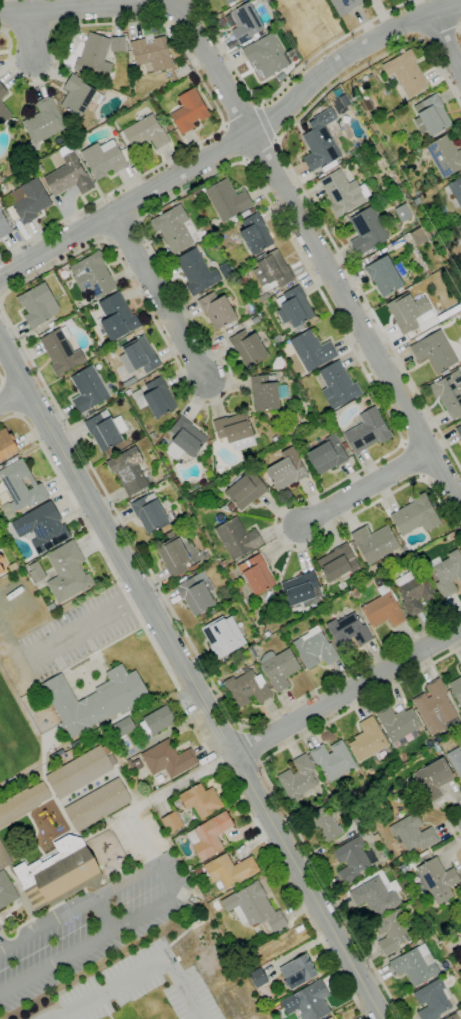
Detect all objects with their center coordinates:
building: (364, 0)
building: (366, 0)
building: (229, 1)
road: (160, 5)
building: (344, 5)
building: (243, 22)
road: (440, 31)
road: (32, 34)
road: (444, 42)
building: (152, 54)
building: (97, 55)
building: (266, 55)
building: (181, 71)
building: (406, 73)
road: (198, 76)
road: (285, 84)
building: (2, 92)
building: (78, 95)
power tower: (352, 100)
building: (189, 111)
building: (4, 113)
building: (431, 115)
building: (44, 121)
road: (264, 122)
building: (305, 127)
building: (146, 133)
road: (234, 142)
building: (319, 148)
building: (444, 156)
building: (103, 159)
building: (68, 177)
building: (1, 179)
road: (305, 192)
building: (342, 192)
building: (454, 192)
building: (30, 200)
building: (228, 200)
building: (417, 200)
building: (251, 210)
building: (402, 213)
building: (4, 226)
building: (173, 229)
building: (367, 229)
building: (255, 234)
building: (420, 236)
building: (237, 239)
building: (196, 272)
building: (271, 272)
building: (92, 275)
building: (241, 276)
building: (384, 276)
road: (158, 297)
road: (0, 300)
building: (37, 305)
building: (294, 308)
building: (217, 310)
building: (407, 311)
building: (117, 317)
road: (355, 319)
building: (255, 321)
building: (51, 324)
building: (278, 339)
building: (248, 348)
building: (312, 350)
building: (61, 351)
building: (434, 351)
building: (95, 353)
building: (137, 357)
road: (1, 380)
building: (338, 385)
building: (88, 390)
building: (268, 392)
building: (449, 393)
road: (13, 396)
building: (155, 398)
road: (212, 402)
building: (103, 431)
building: (234, 431)
building: (367, 431)
building: (459, 431)
building: (153, 437)
building: (186, 440)
building: (6, 445)
building: (344, 445)
building: (326, 455)
building: (128, 470)
building: (286, 470)
building: (165, 477)
building: (151, 485)
road: (368, 487)
building: (20, 488)
building: (245, 490)
building: (230, 506)
building: (150, 514)
building: (415, 515)
building: (171, 516)
building: (41, 528)
building: (237, 538)
building: (374, 543)
road: (99, 548)
building: (355, 554)
building: (173, 555)
building: (1, 559)
building: (338, 563)
building: (12, 567)
building: (1, 570)
building: (36, 571)
building: (67, 572)
building: (447, 572)
building: (257, 574)
building: (354, 590)
building: (300, 591)
building: (414, 592)
building: (198, 594)
building: (269, 597)
building: (175, 599)
building: (51, 607)
building: (383, 609)
road: (90, 623)
building: (348, 631)
building: (223, 636)
building: (314, 648)
building: (252, 653)
building: (460, 667)
building: (278, 668)
road: (191, 679)
building: (246, 688)
building: (456, 689)
road: (346, 690)
building: (94, 699)
building: (436, 708)
building: (157, 721)
building: (398, 722)
building: (122, 728)
park: (12, 731)
building: (367, 740)
road: (252, 746)
building: (435, 749)
building: (57, 754)
building: (167, 759)
building: (333, 760)
building: (455, 760)
building: (80, 771)
building: (433, 779)
building: (296, 780)
building: (386, 788)
road: (275, 792)
road: (157, 797)
building: (201, 801)
building: (22, 803)
building: (97, 805)
building: (171, 822)
road: (452, 823)
building: (323, 824)
building: (412, 833)
building: (208, 836)
building: (375, 838)
building: (4, 858)
building: (353, 859)
building: (229, 871)
building: (199, 872)
building: (59, 874)
building: (437, 880)
road: (173, 888)
road: (293, 890)
building: (6, 891)
building: (376, 896)
building: (253, 907)
road: (104, 914)
parking lot: (91, 929)
building: (391, 932)
building: (415, 965)
building: (297, 972)
road: (138, 973)
building: (257, 978)
parking lot: (111, 987)
building: (264, 996)
parking lot: (190, 998)
building: (432, 1000)
building: (308, 1001)
road: (55, 1017)
building: (452, 1017)
building: (330, 1018)

